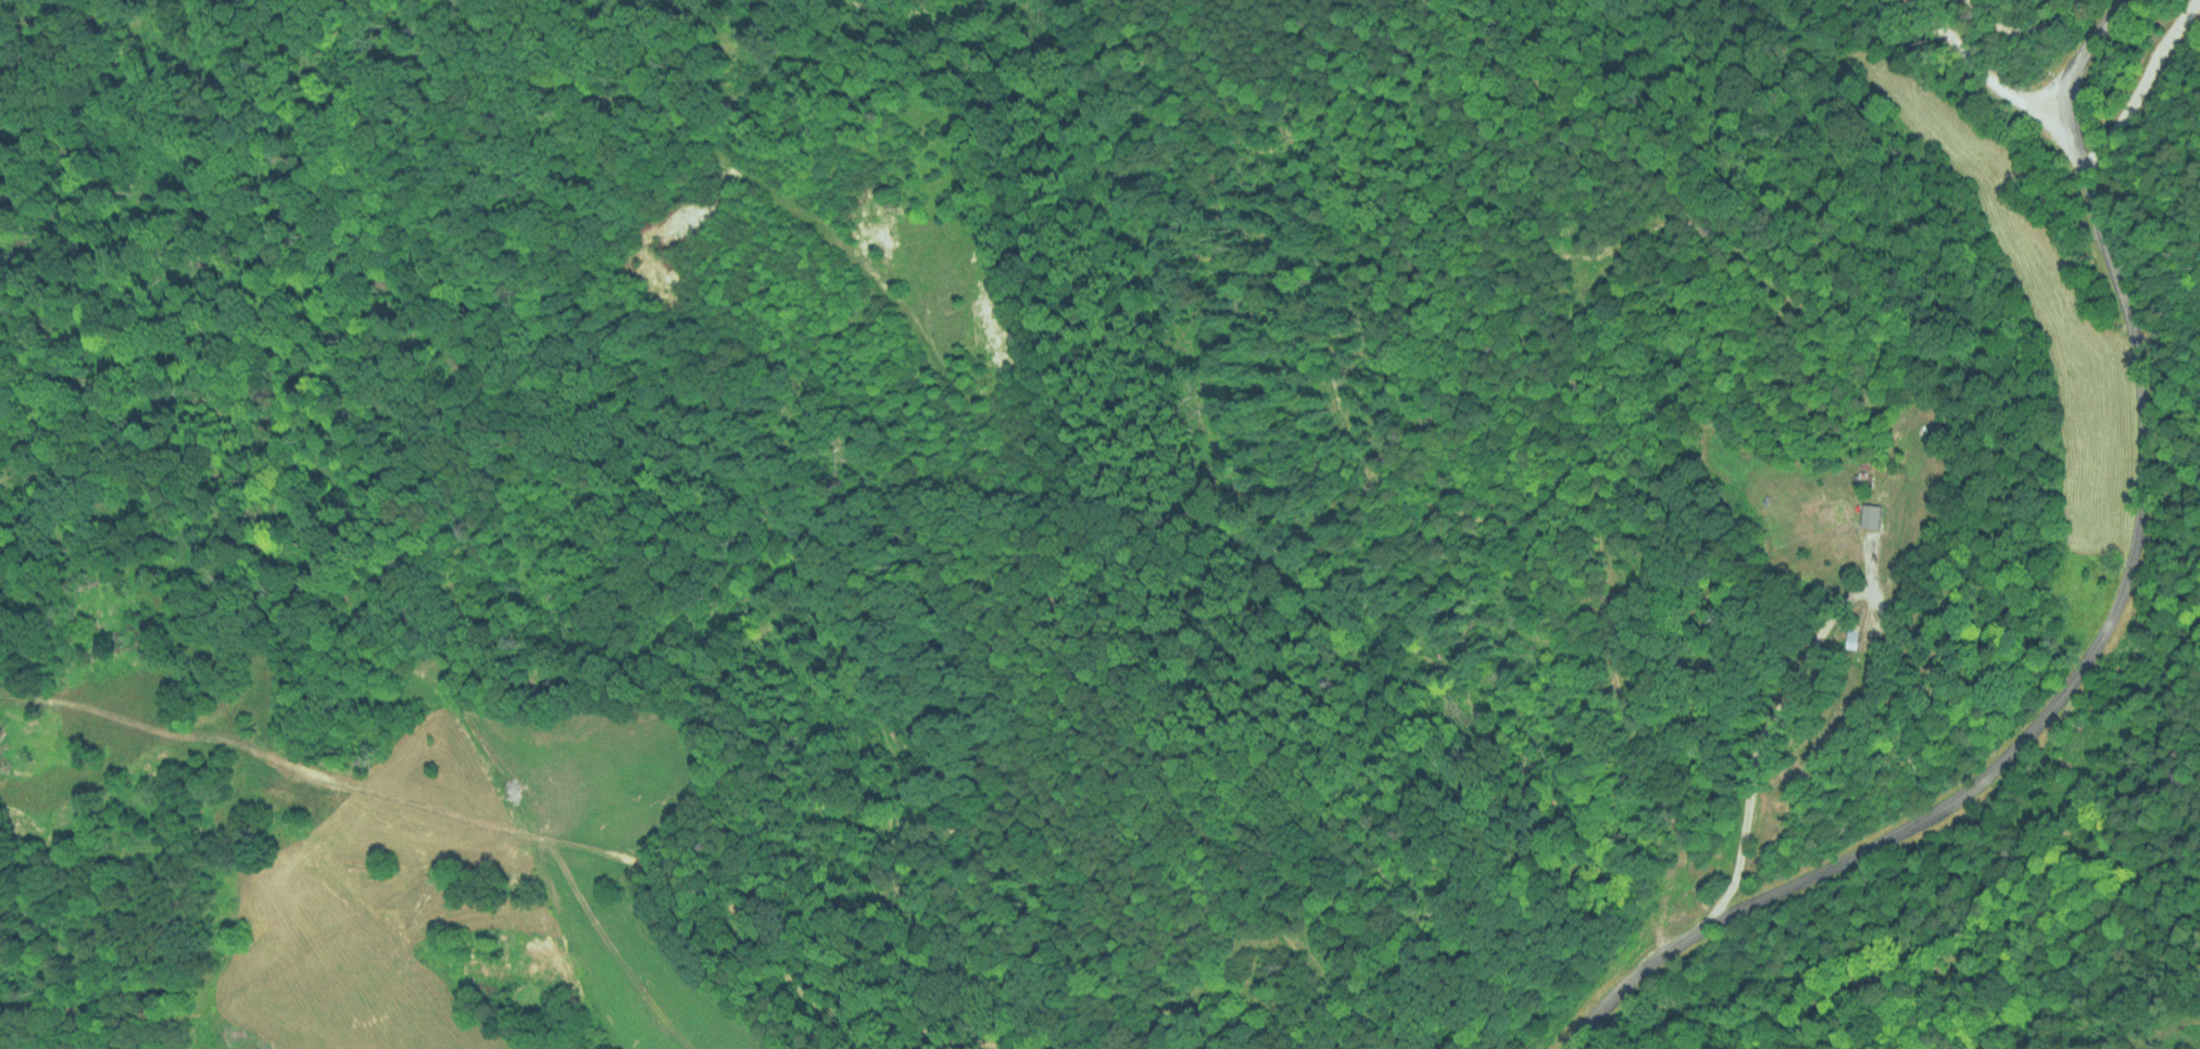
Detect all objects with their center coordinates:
road: (2087, 51)
road: (1958, 72)
building: (1824, 516)
road: (1839, 601)
road: (2067, 688)

